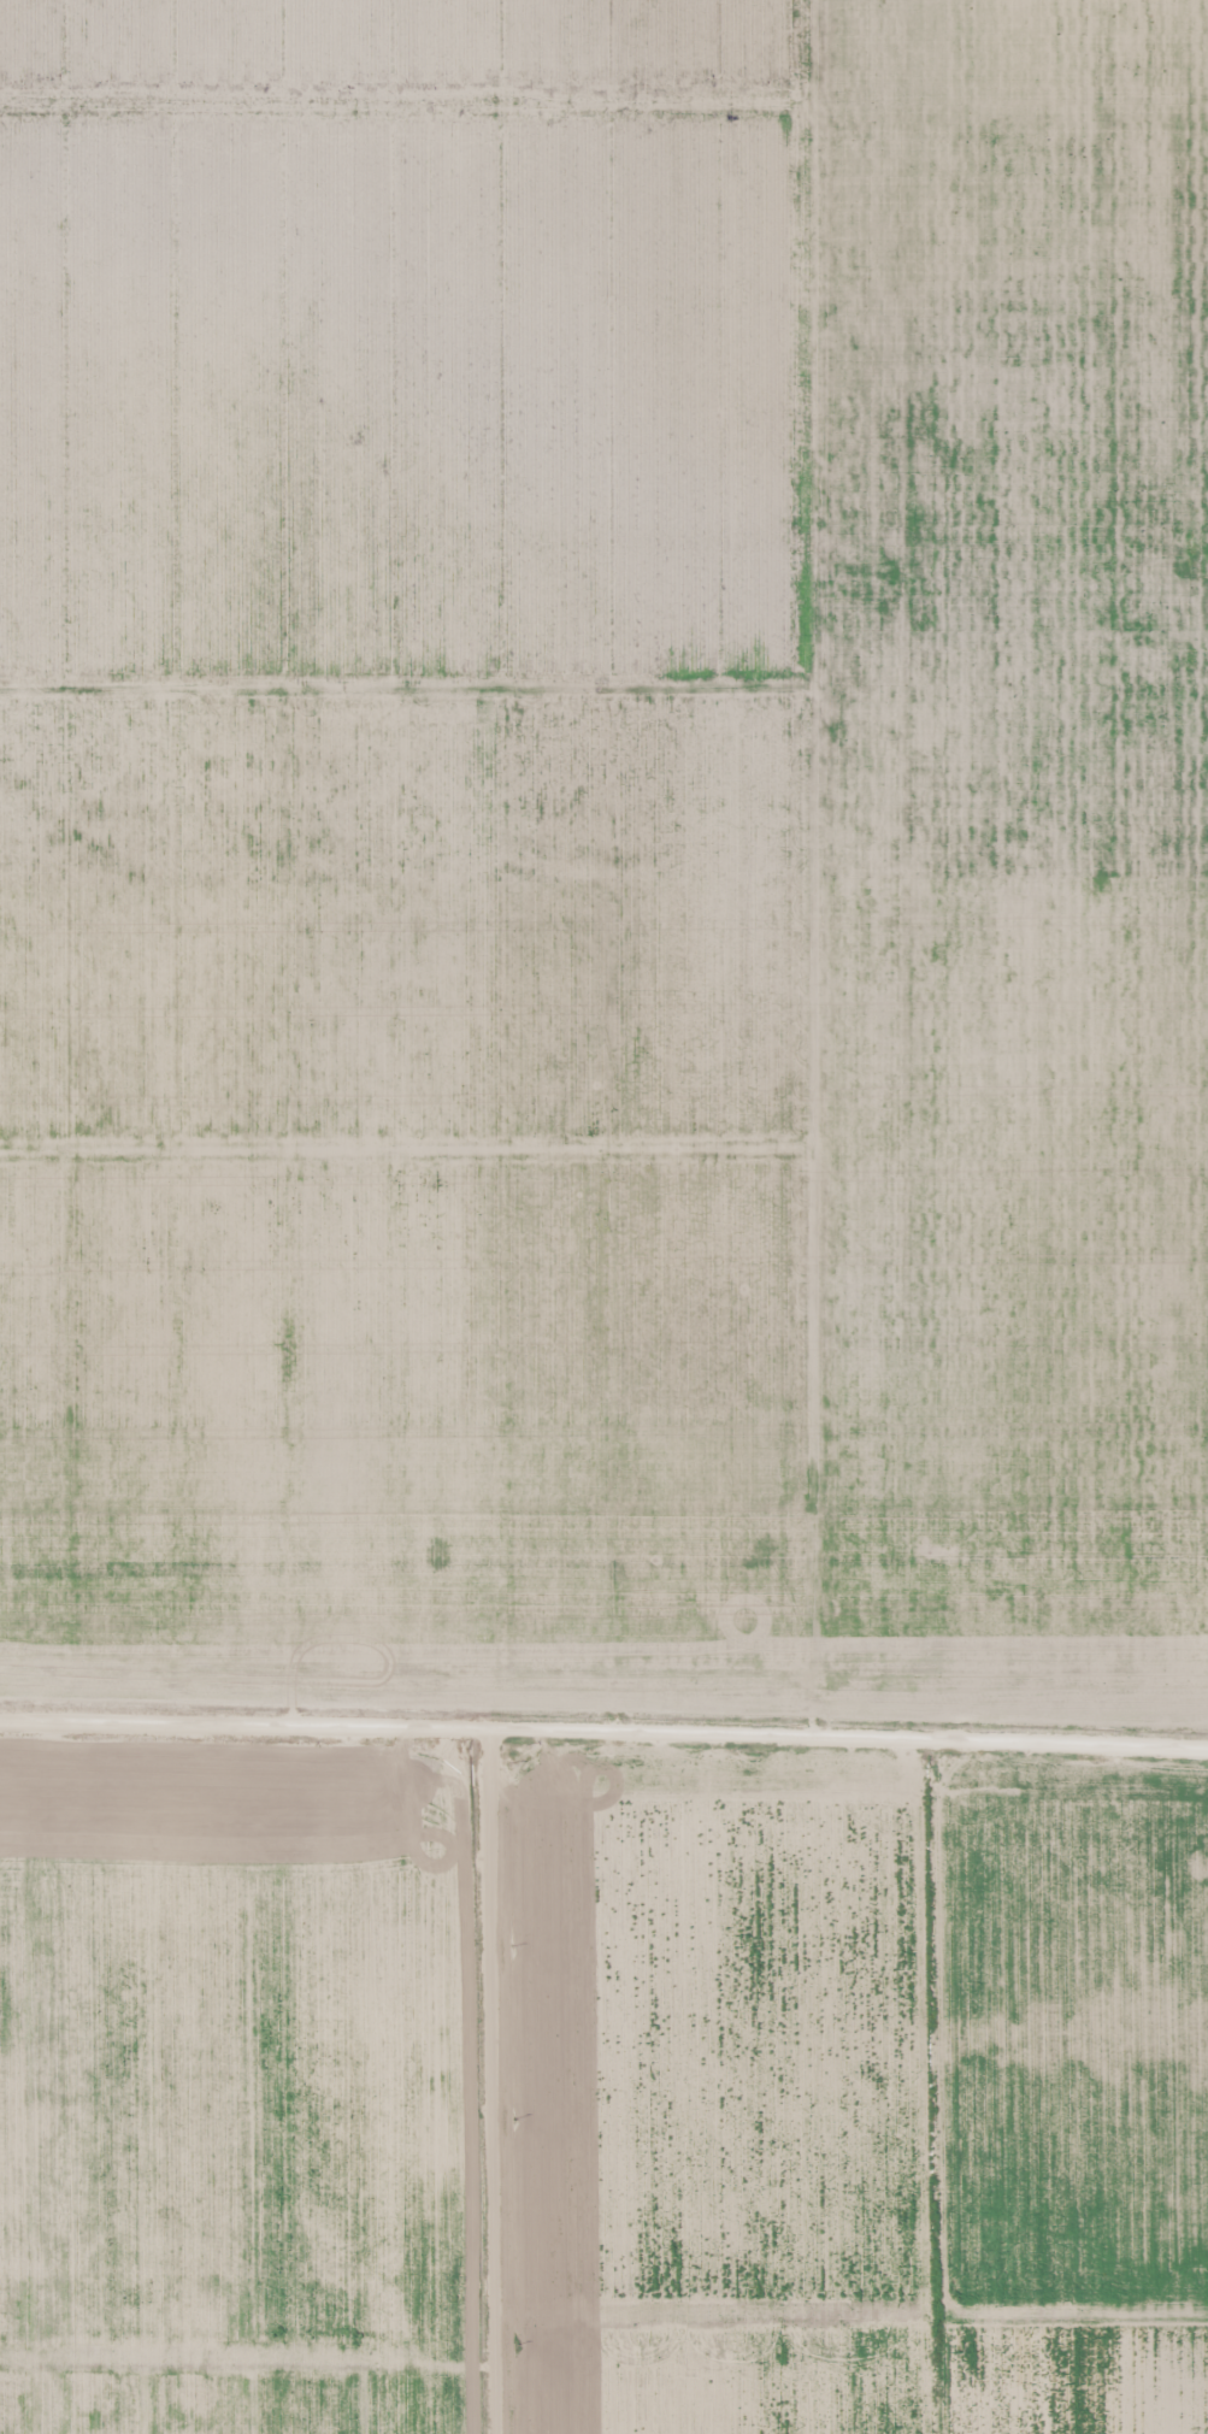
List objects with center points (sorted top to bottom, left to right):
road: (603, 1731)

